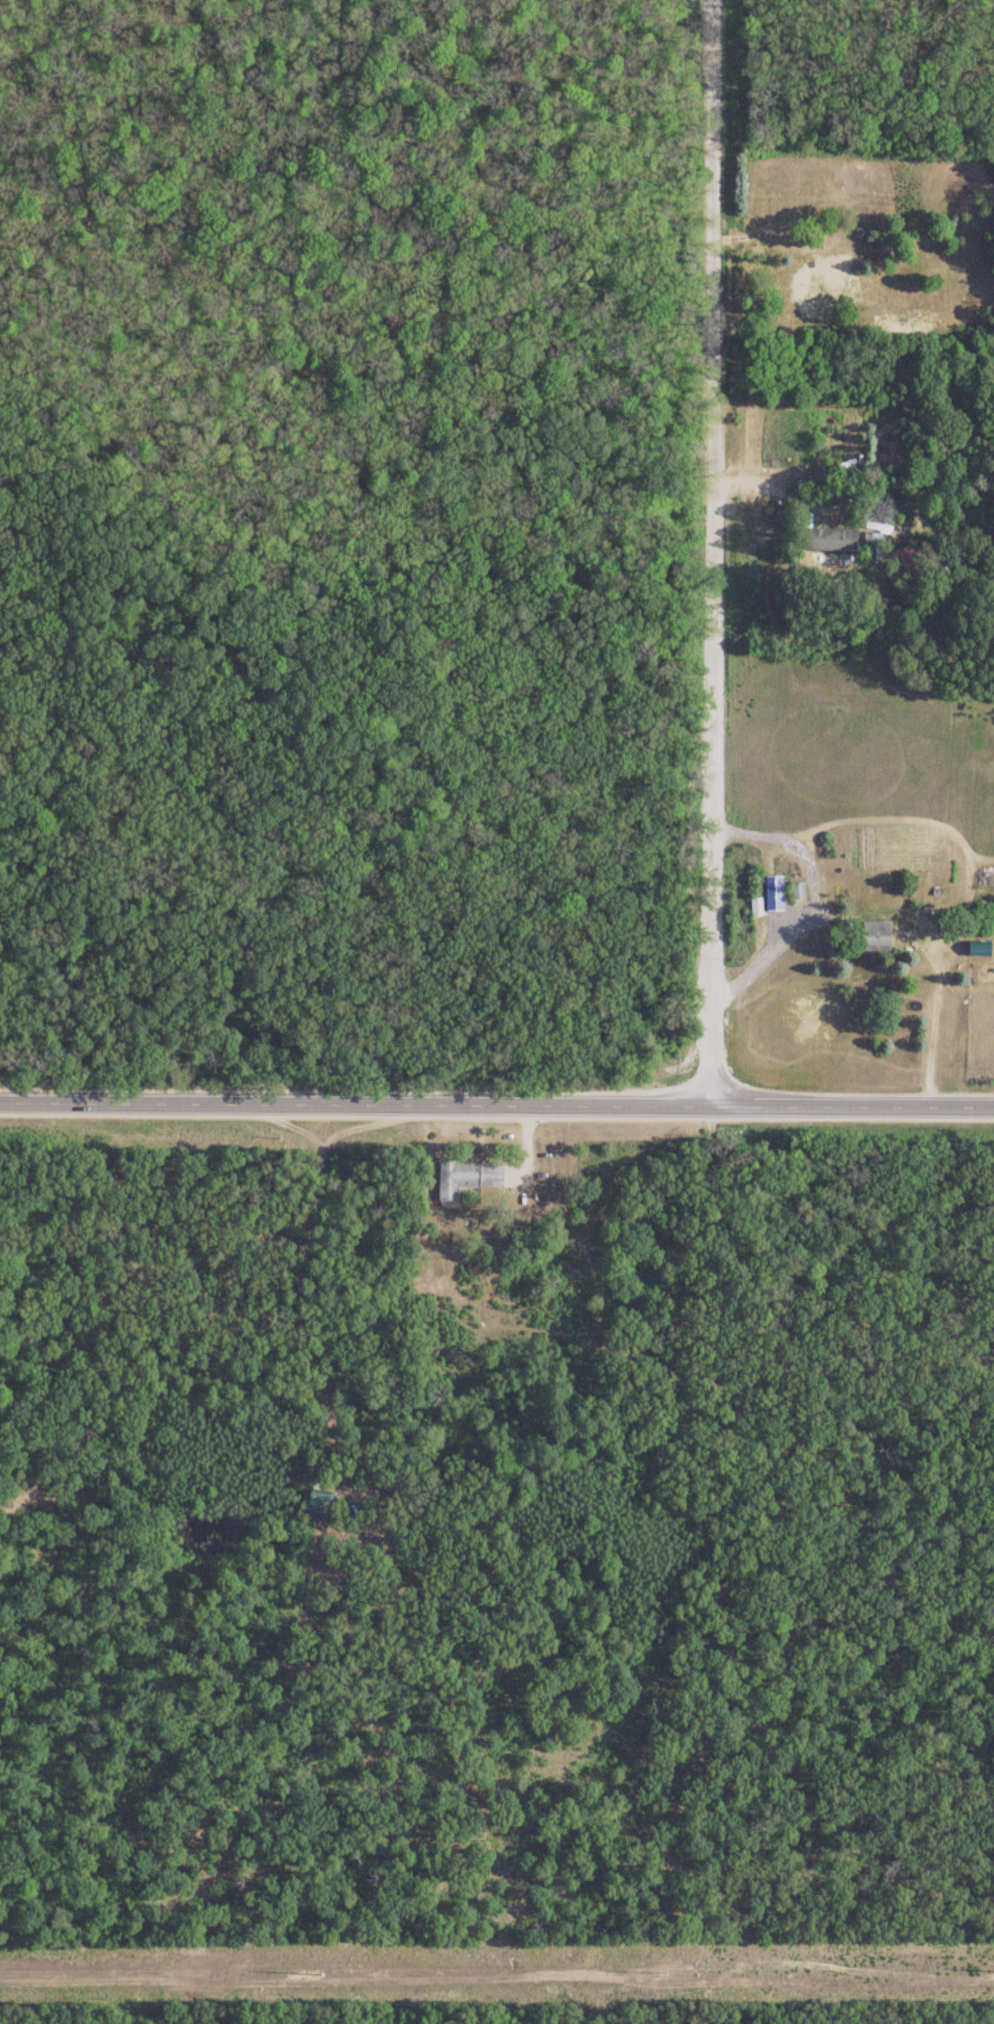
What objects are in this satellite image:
building: (830, 541)
road: (712, 557)
building: (772, 894)
building: (874, 936)
building: (978, 949)
road: (496, 1112)
building: (468, 1176)
building: (316, 1503)

